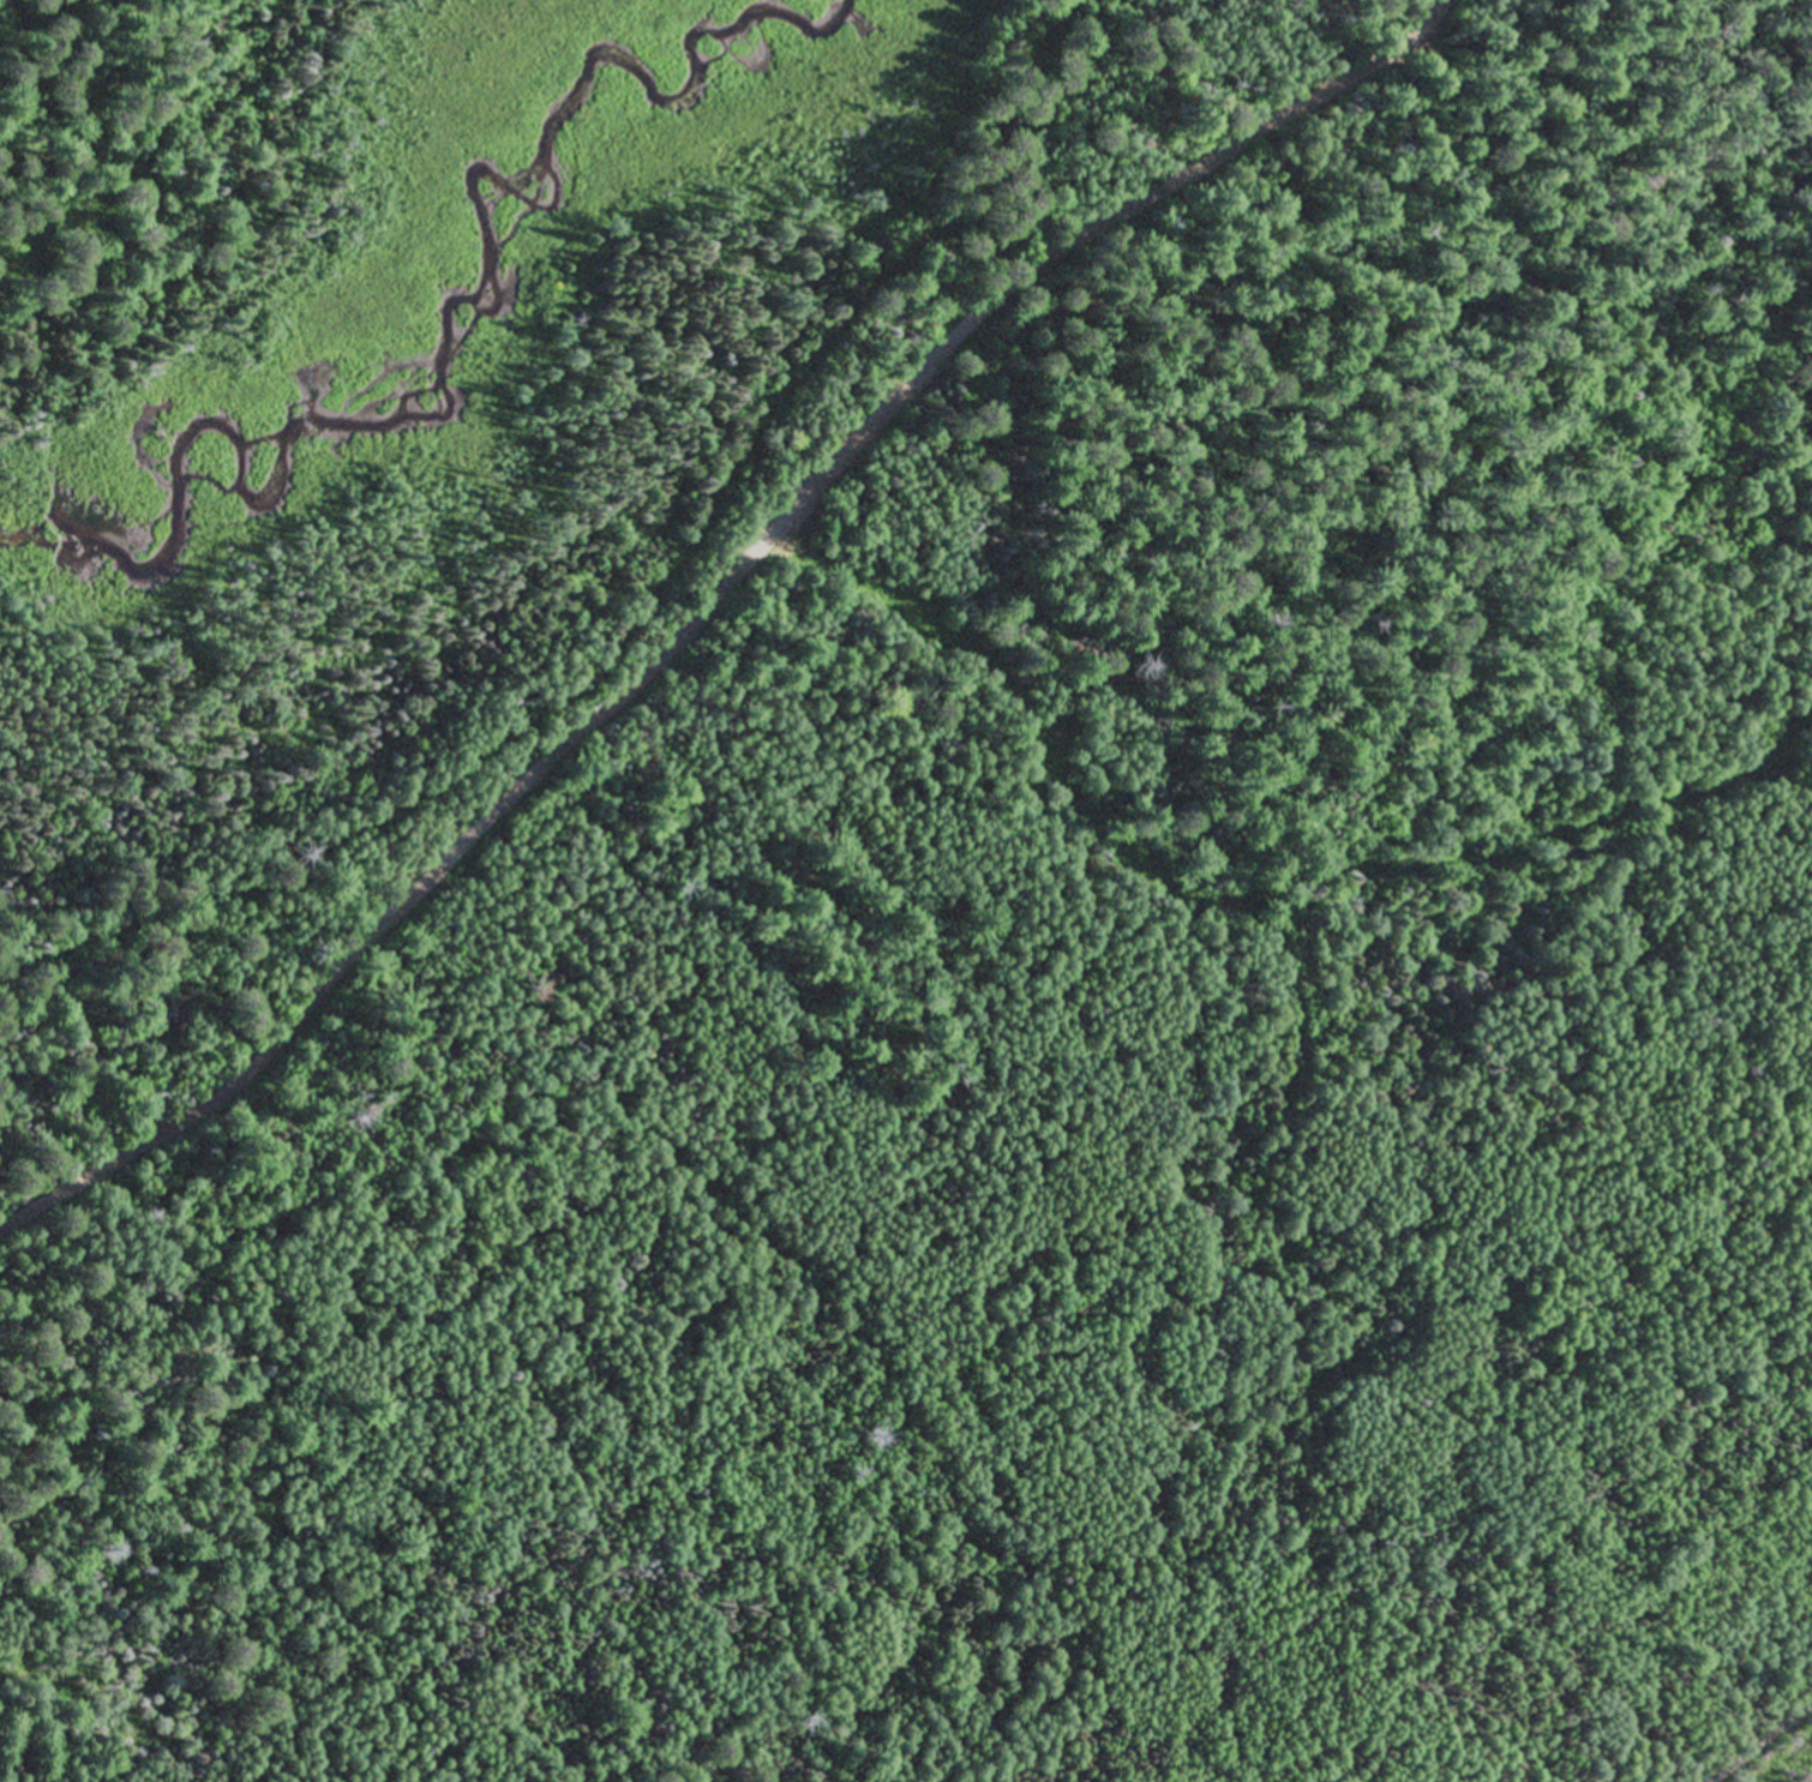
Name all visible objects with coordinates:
road: (715, 601)
road: (1750, 1736)

